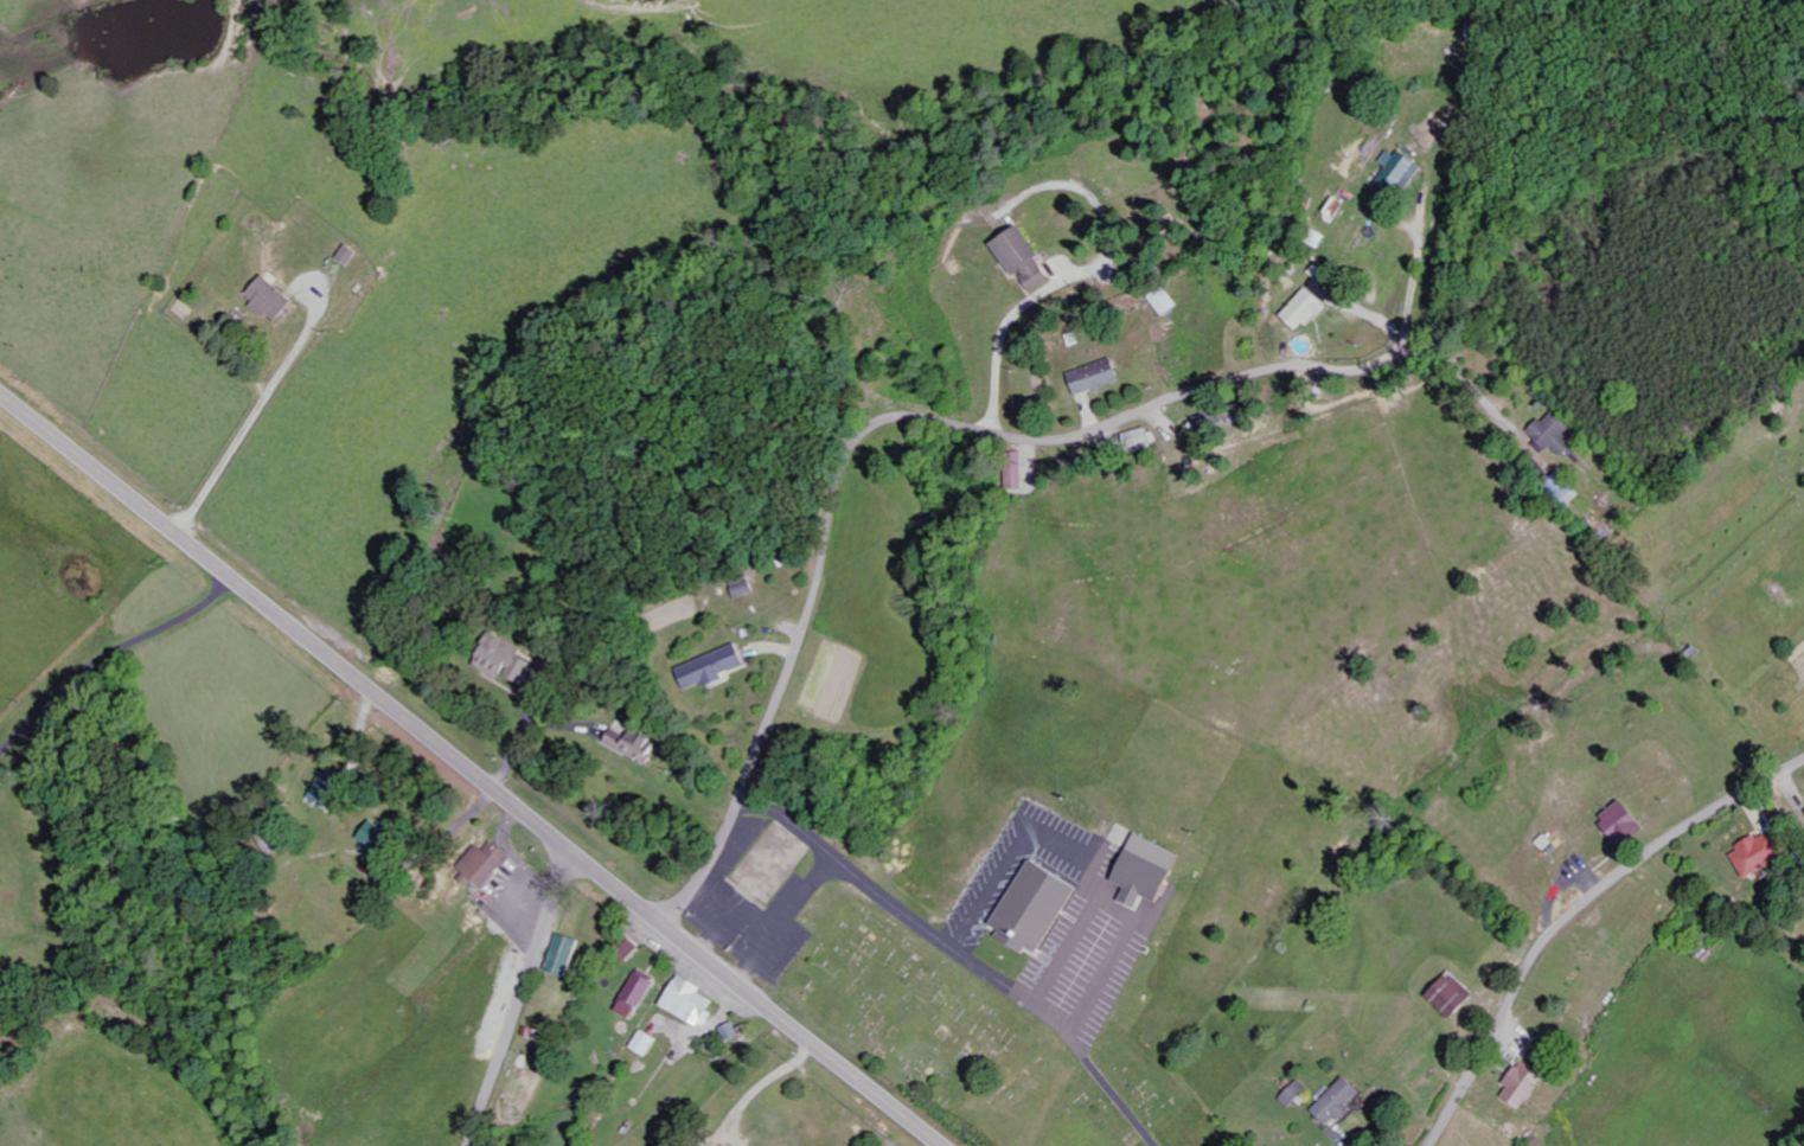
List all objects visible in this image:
building: (1401, 171)
building: (1337, 210)
building: (352, 255)
building: (1026, 258)
road: (1416, 292)
building: (274, 299)
building: (1313, 300)
road: (1382, 325)
road: (1005, 337)
building: (1098, 377)
road: (883, 423)
road: (257, 434)
building: (1557, 434)
building: (1143, 438)
building: (1016, 472)
building: (746, 588)
road: (108, 657)
building: (511, 660)
building: (714, 667)
building: (638, 744)
road: (469, 770)
building: (328, 789)
building: (1625, 824)
building: (379, 839)
road: (1023, 841)
building: (1764, 853)
road: (514, 854)
building: (486, 863)
building: (1151, 870)
road: (1126, 905)
building: (1039, 907)
road: (1574, 911)
road: (729, 914)
parking lot: (1114, 918)
road: (788, 920)
road: (966, 950)
building: (565, 955)
building: (639, 991)
building: (1454, 995)
road: (517, 997)
building: (692, 1001)
building: (646, 1043)
building: (1528, 1083)
road: (762, 1089)
building: (1298, 1094)
building: (1342, 1102)

